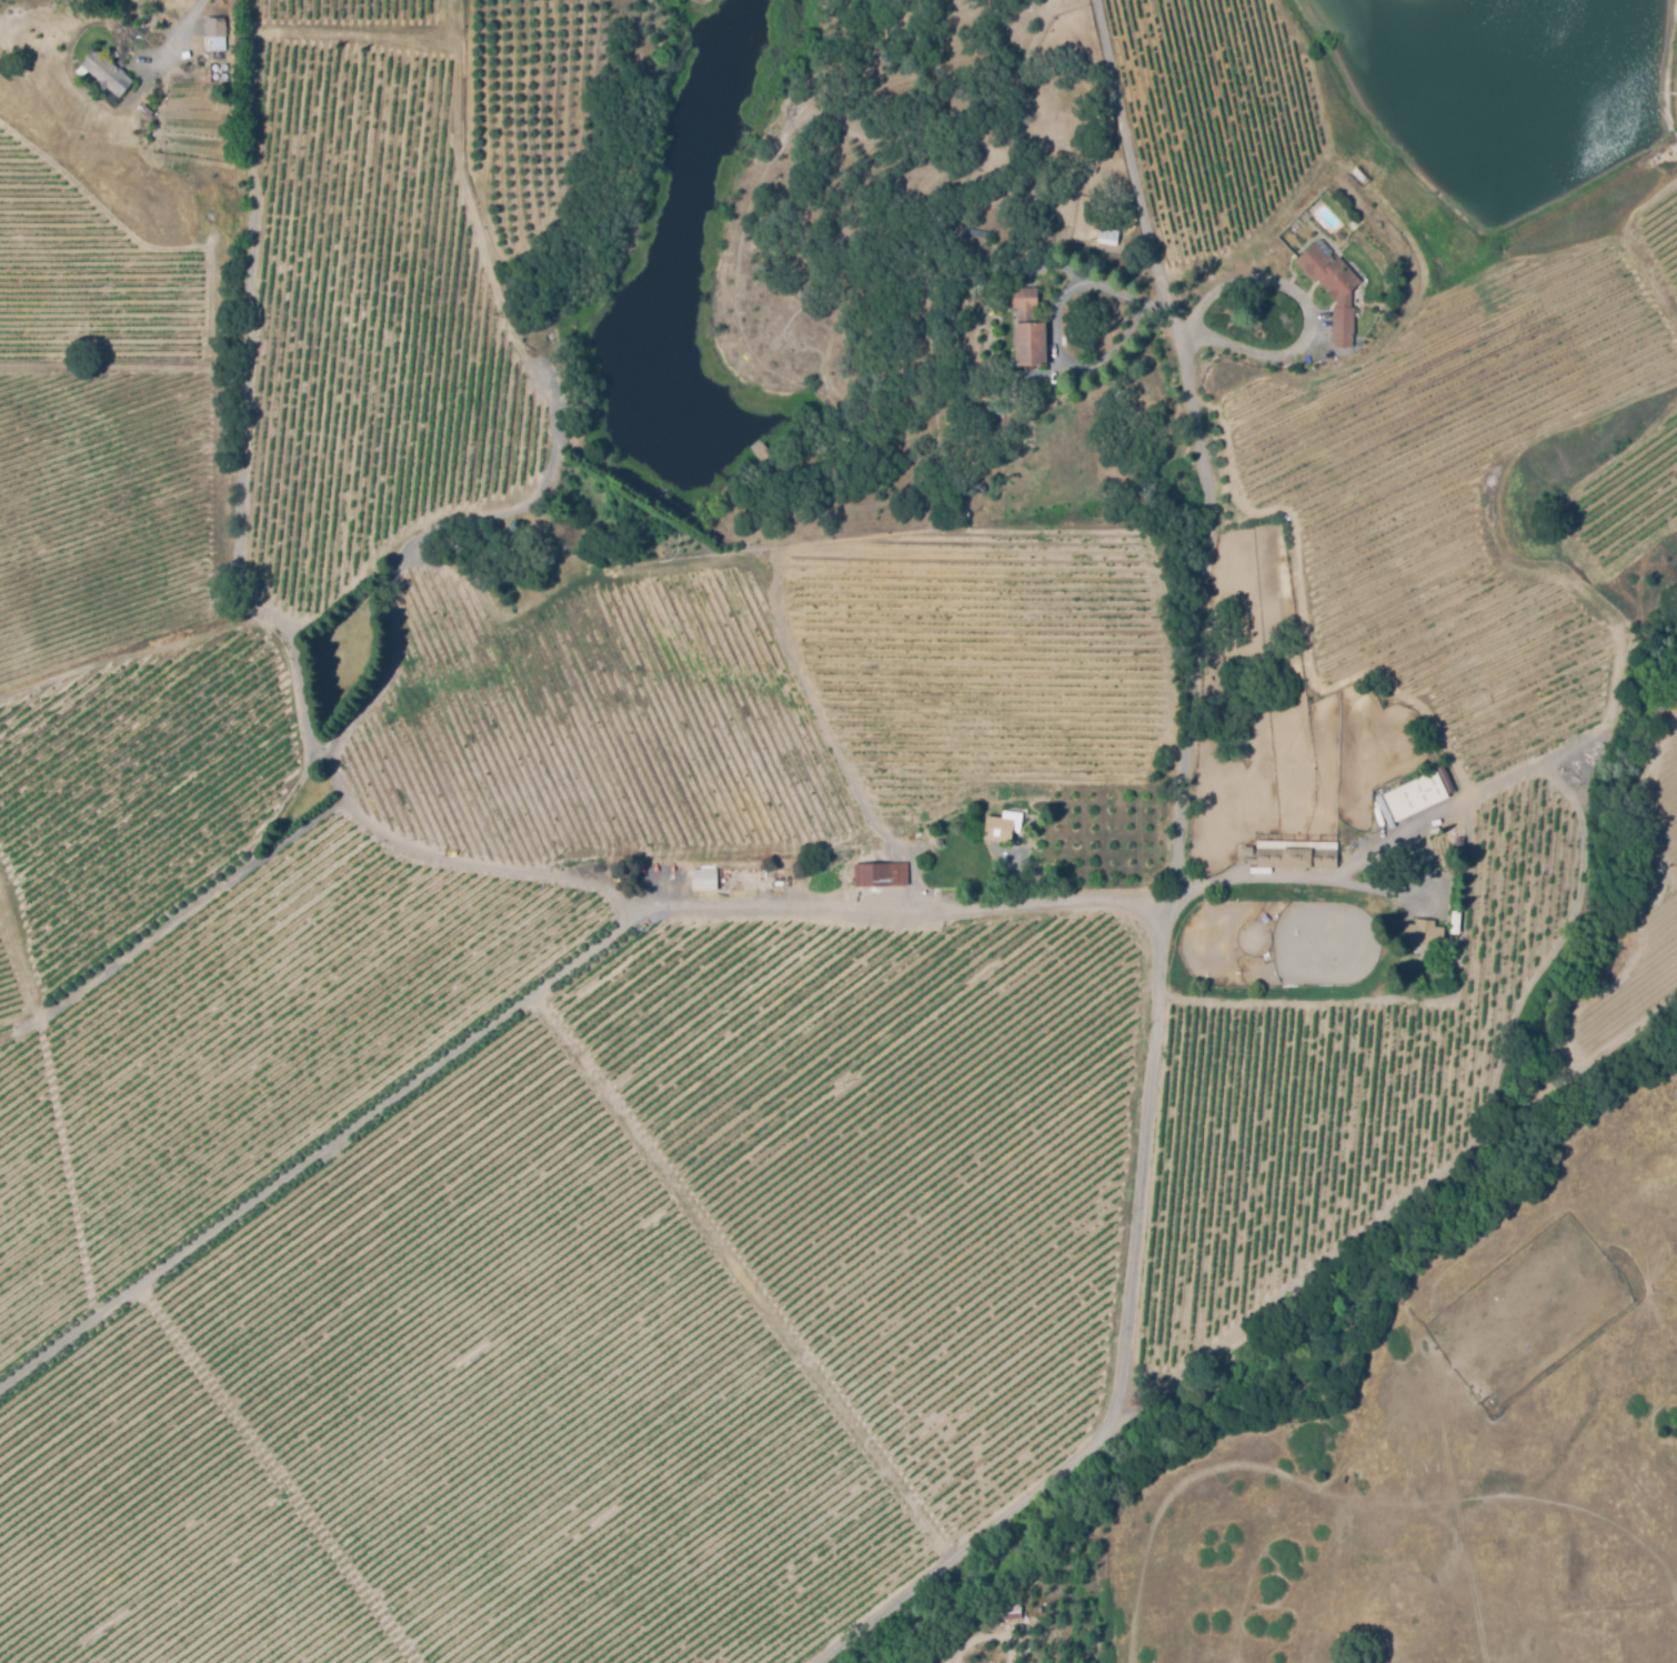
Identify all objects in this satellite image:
road: (181, 26)
building: (221, 37)
building: (110, 73)
building: (145, 112)
building: (1349, 192)
building: (1111, 237)
building: (1338, 290)
road: (1307, 322)
building: (1030, 325)
road: (1050, 330)
building: (993, 409)
road: (1195, 442)
building: (760, 455)
building: (1418, 795)
building: (1005, 824)
building: (942, 841)
building: (1243, 851)
building: (1299, 853)
building: (883, 874)
building: (707, 879)
road: (1374, 890)
building: (1453, 923)
building: (1426, 931)
road: (534, 988)
road: (1131, 1350)
building: (1005, 1610)
road: (981, 1635)

